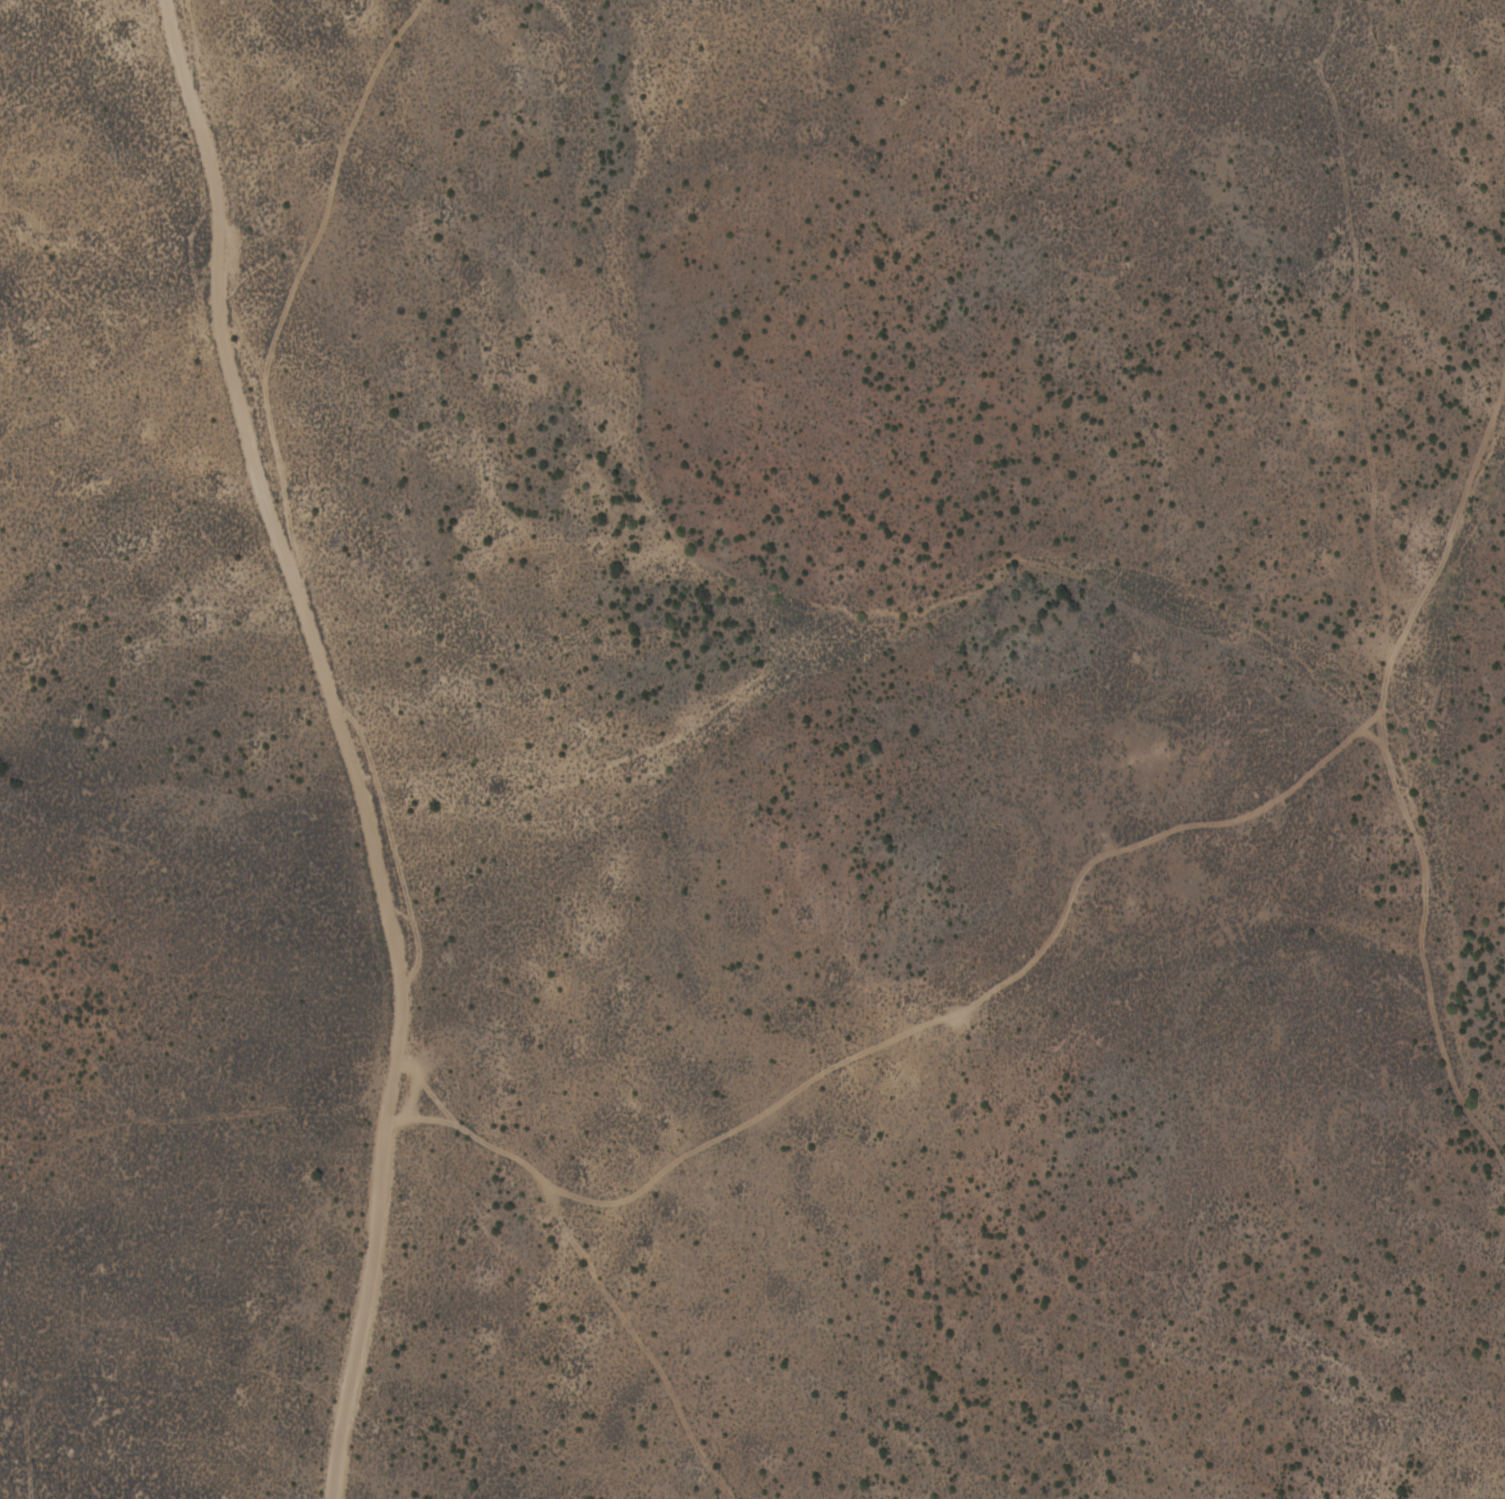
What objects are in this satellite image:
road: (206, 273)
road: (1399, 748)
road: (373, 791)
road: (397, 1268)

